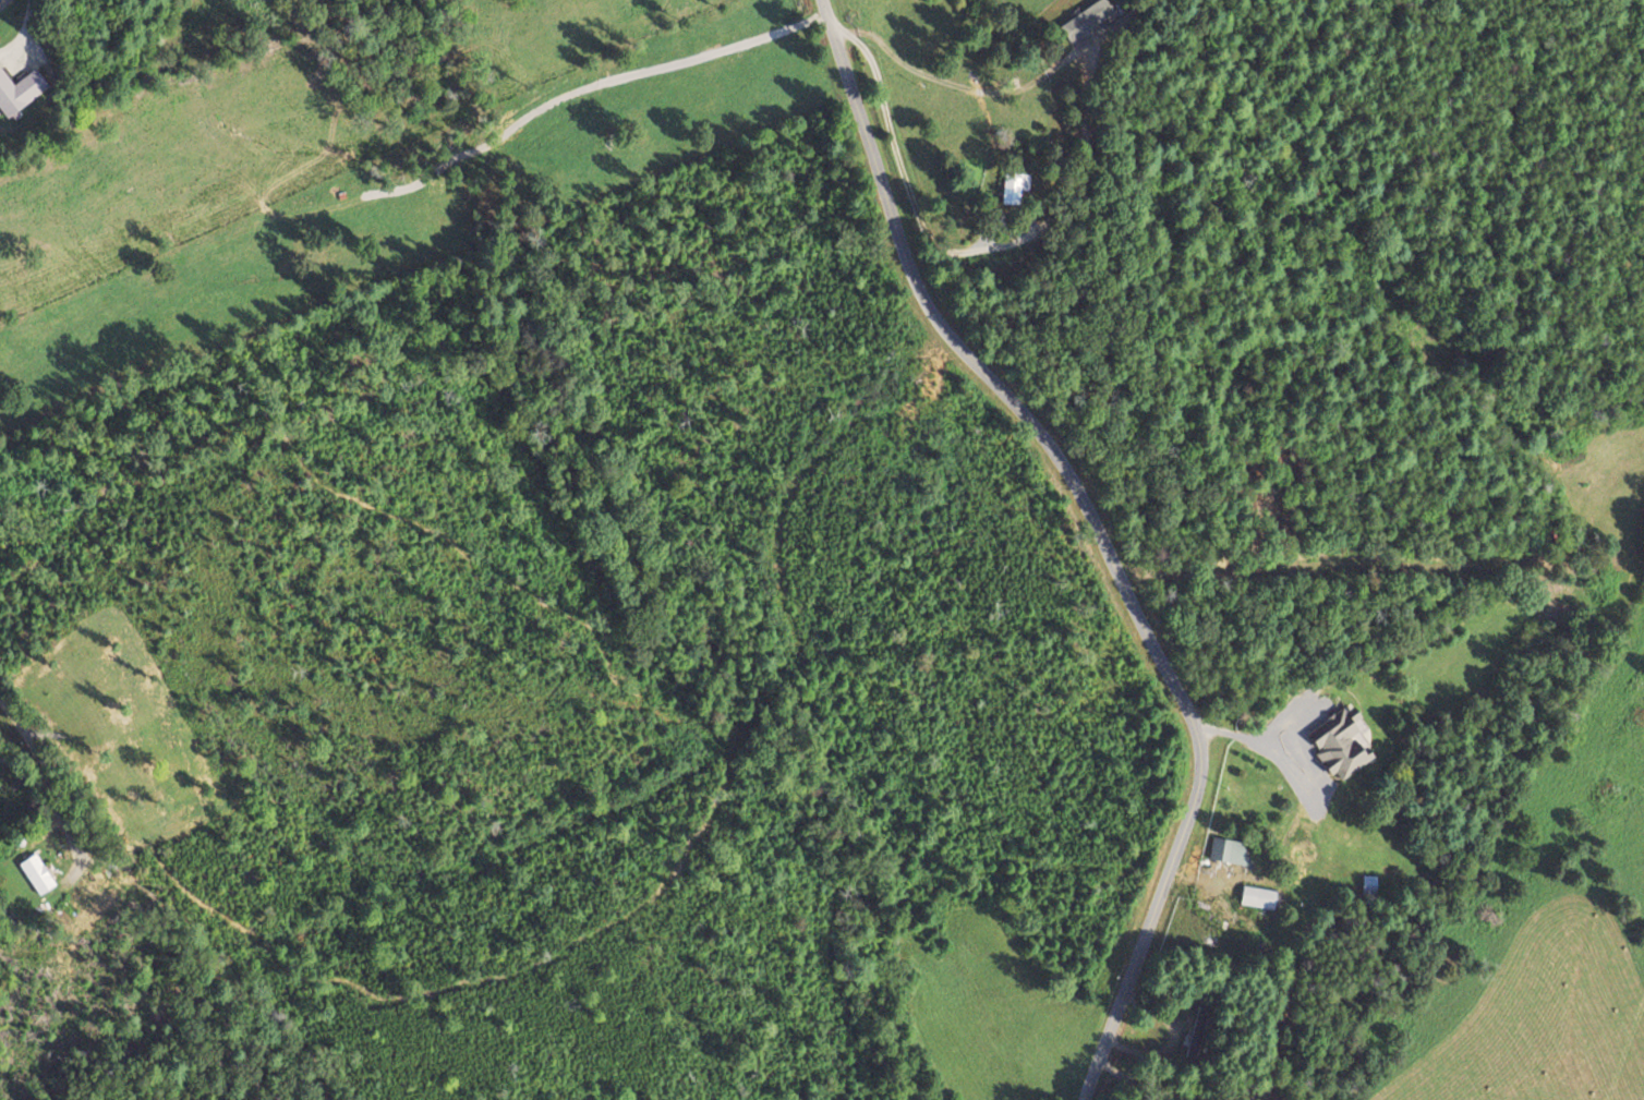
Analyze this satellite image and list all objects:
road: (0, 0)
road: (1096, 532)
building: (1339, 742)
building: (1228, 851)
building: (35, 874)
building: (1257, 897)

